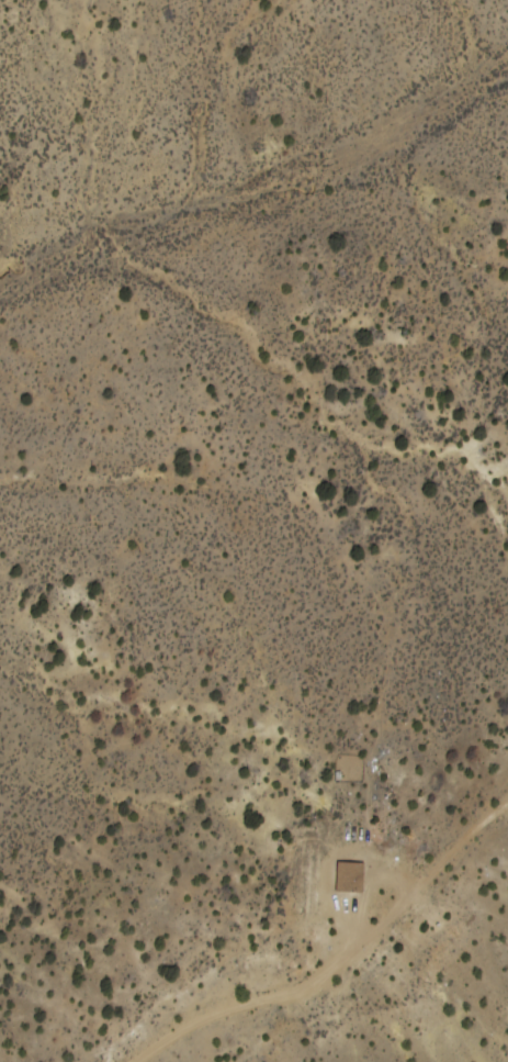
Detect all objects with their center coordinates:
building: (352, 875)
road: (327, 948)

